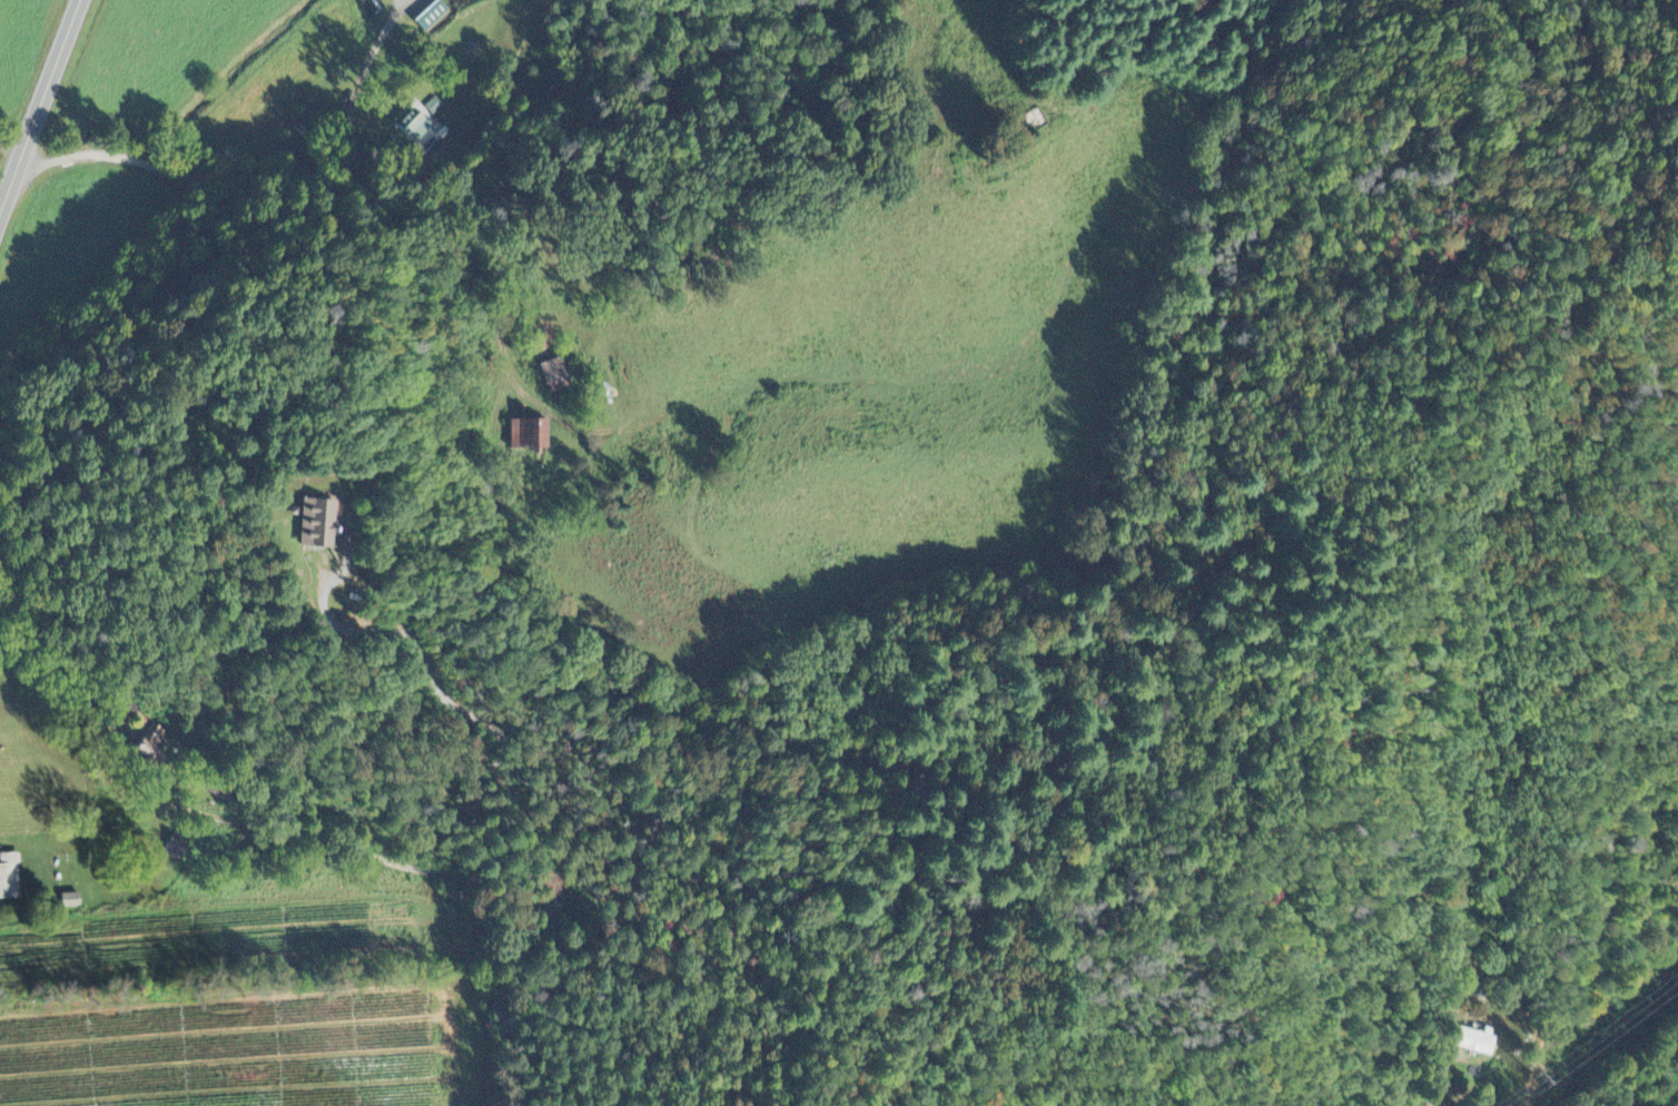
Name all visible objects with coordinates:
building: (430, 17)
road: (365, 73)
road: (40, 110)
building: (307, 124)
building: (412, 124)
road: (208, 179)
building: (555, 377)
building: (530, 431)
building: (316, 520)
building: (154, 747)
building: (177, 849)
road: (460, 875)
building: (11, 878)
building: (75, 901)
building: (1477, 1038)

